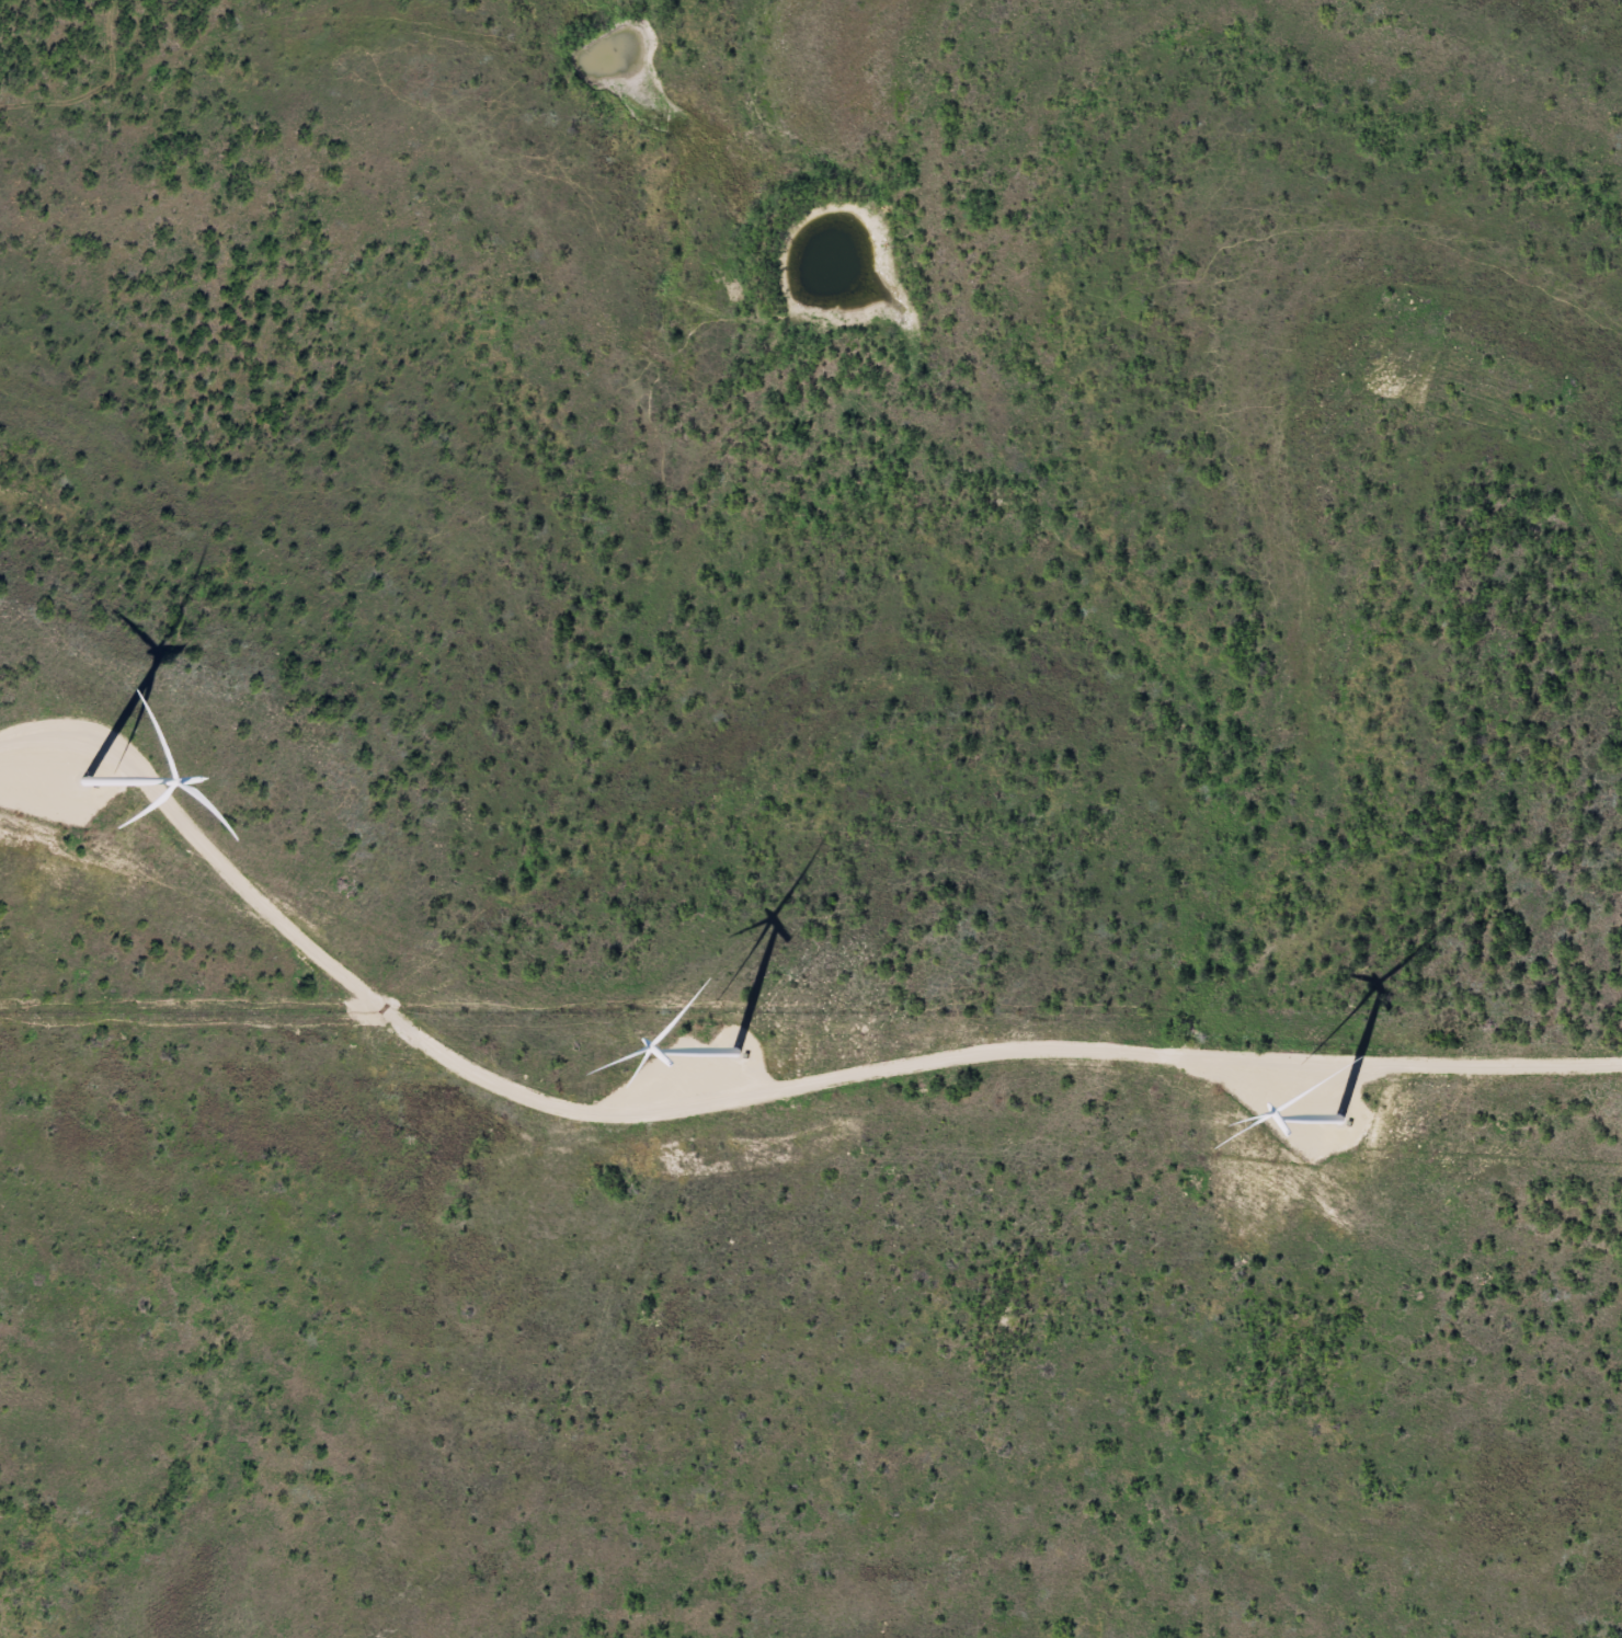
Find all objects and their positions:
road: (147, 47)
wind turbine: (89, 789)
wind turbine: (742, 1070)
wind turbine: (1329, 1126)

